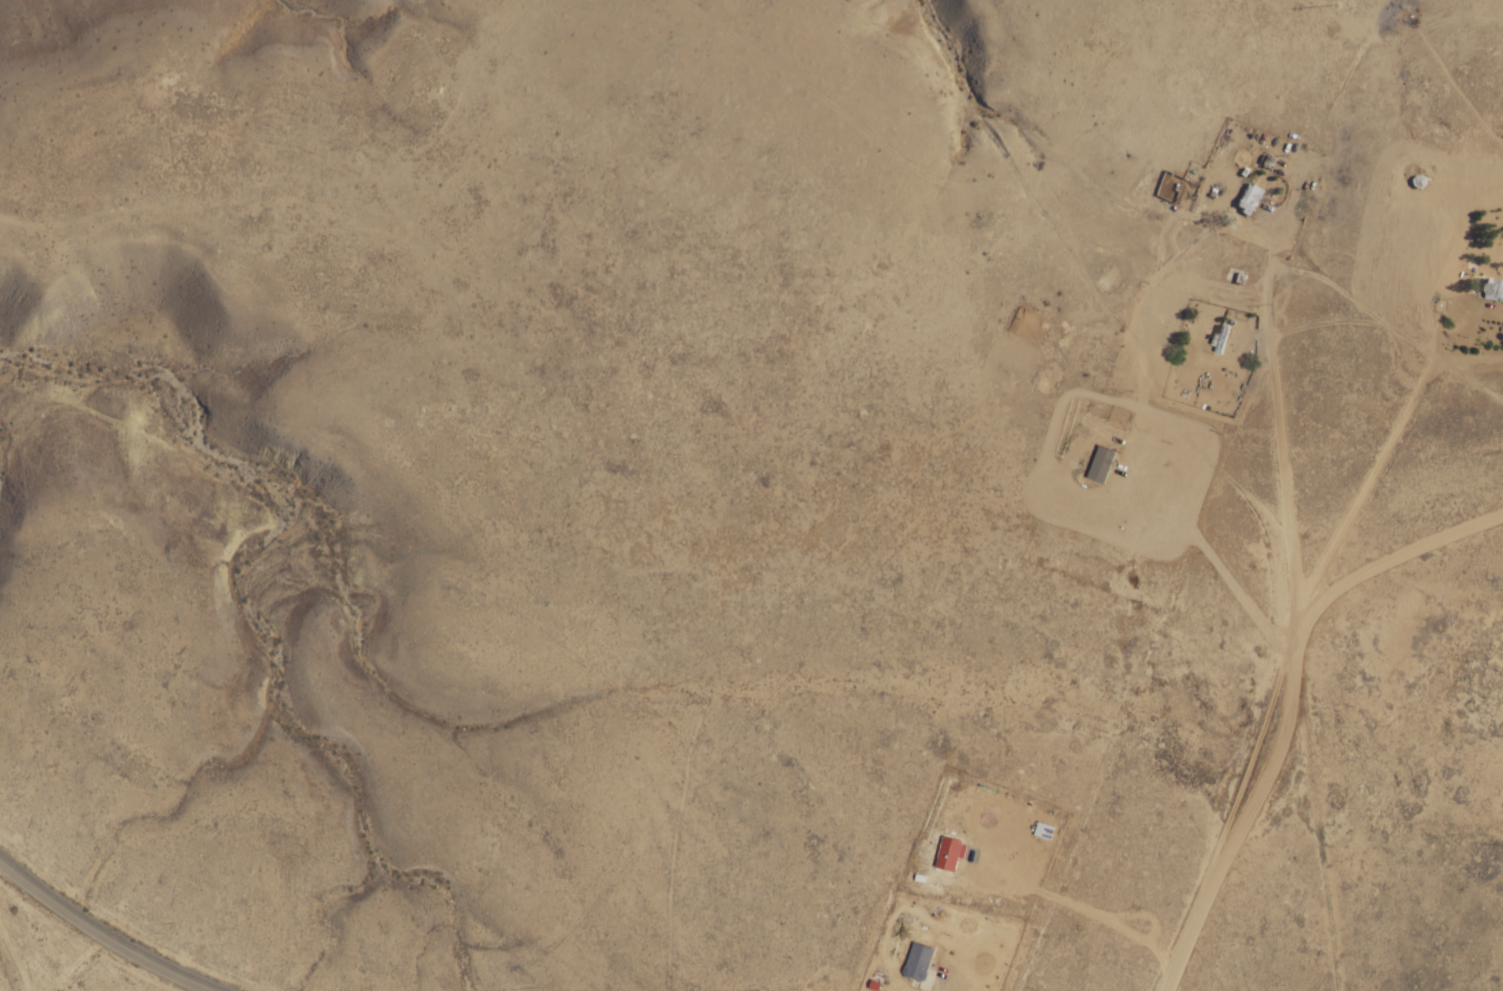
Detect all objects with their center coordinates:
building: (1420, 181)
road: (1222, 185)
building: (1249, 200)
road: (1390, 261)
road: (1481, 266)
building: (1236, 277)
building: (1491, 290)
building: (1221, 339)
building: (948, 854)
road: (1235, 864)
road: (106, 934)
building: (918, 962)
road: (101, 966)

